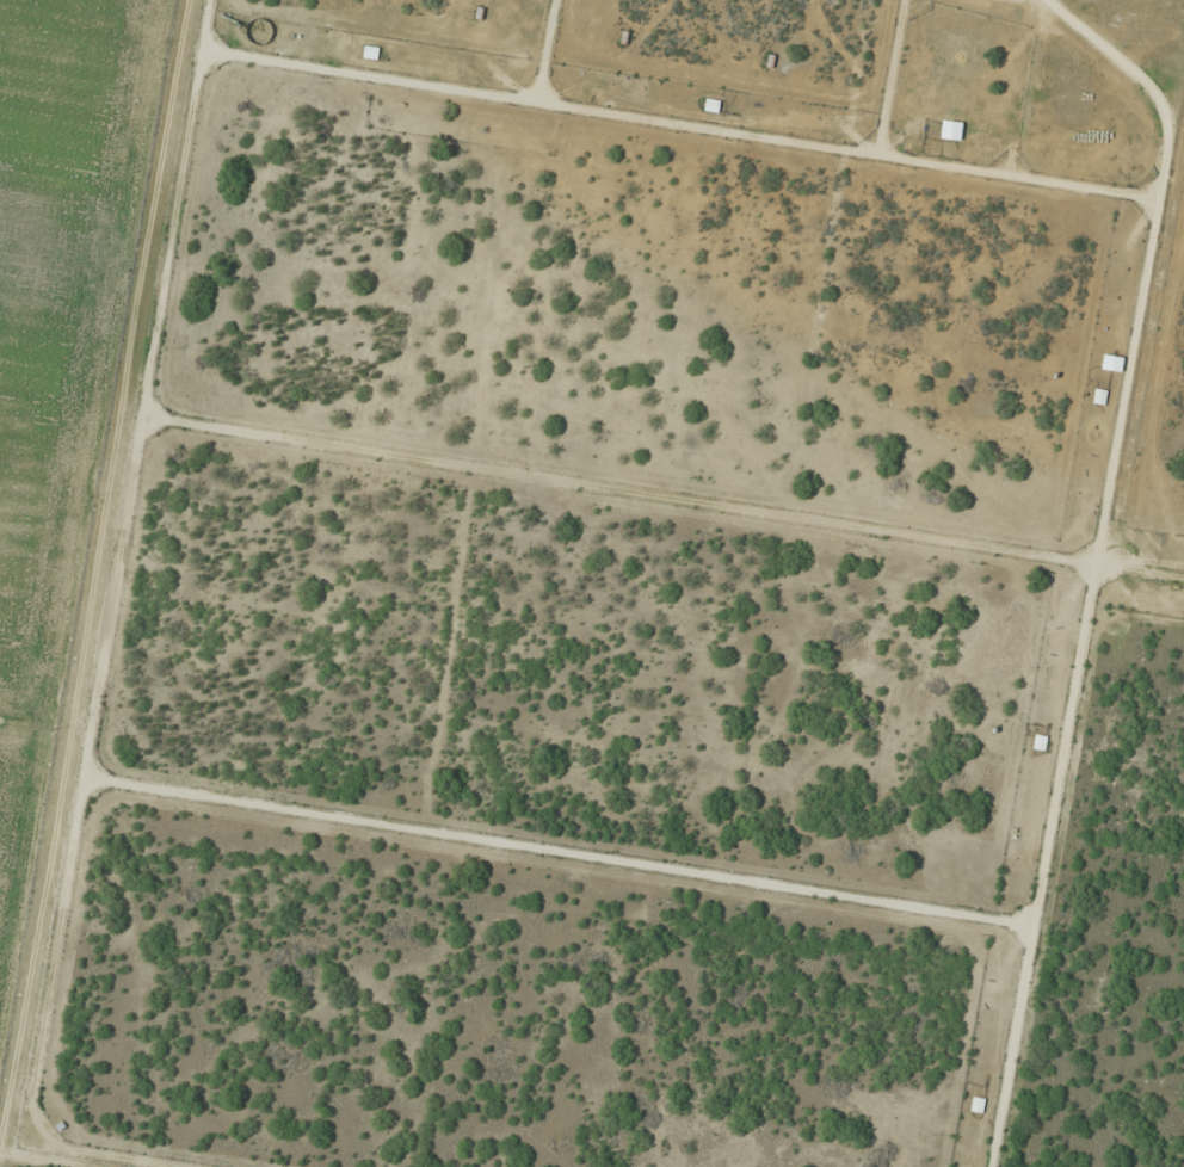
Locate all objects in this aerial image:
building: (370, 53)
building: (1099, 396)
road: (86, 523)
airport: (635, 599)
building: (1040, 742)
building: (978, 1105)

